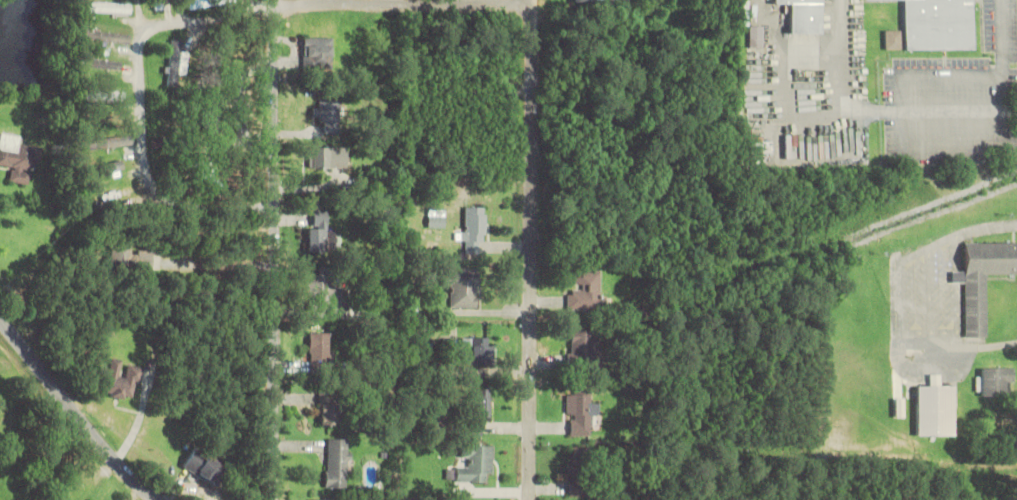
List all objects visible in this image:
building: (587, 1)
building: (209, 2)
building: (159, 5)
building: (109, 7)
building: (804, 15)
building: (939, 24)
road: (537, 30)
building: (108, 36)
building: (756, 36)
building: (894, 39)
road: (394, 43)
building: (316, 52)
road: (522, 53)
building: (177, 61)
building: (327, 108)
building: (110, 142)
building: (762, 147)
building: (328, 157)
building: (19, 158)
building: (329, 187)
building: (475, 224)
building: (323, 234)
road: (276, 250)
building: (130, 258)
building: (983, 279)
road: (533, 280)
building: (463, 289)
building: (586, 291)
building: (328, 294)
building: (583, 346)
building: (320, 349)
building: (475, 349)
building: (121, 381)
building: (995, 381)
building: (330, 408)
building: (936, 408)
building: (479, 409)
building: (582, 412)
road: (76, 418)
building: (338, 463)
building: (476, 464)
building: (204, 466)
building: (583, 471)

